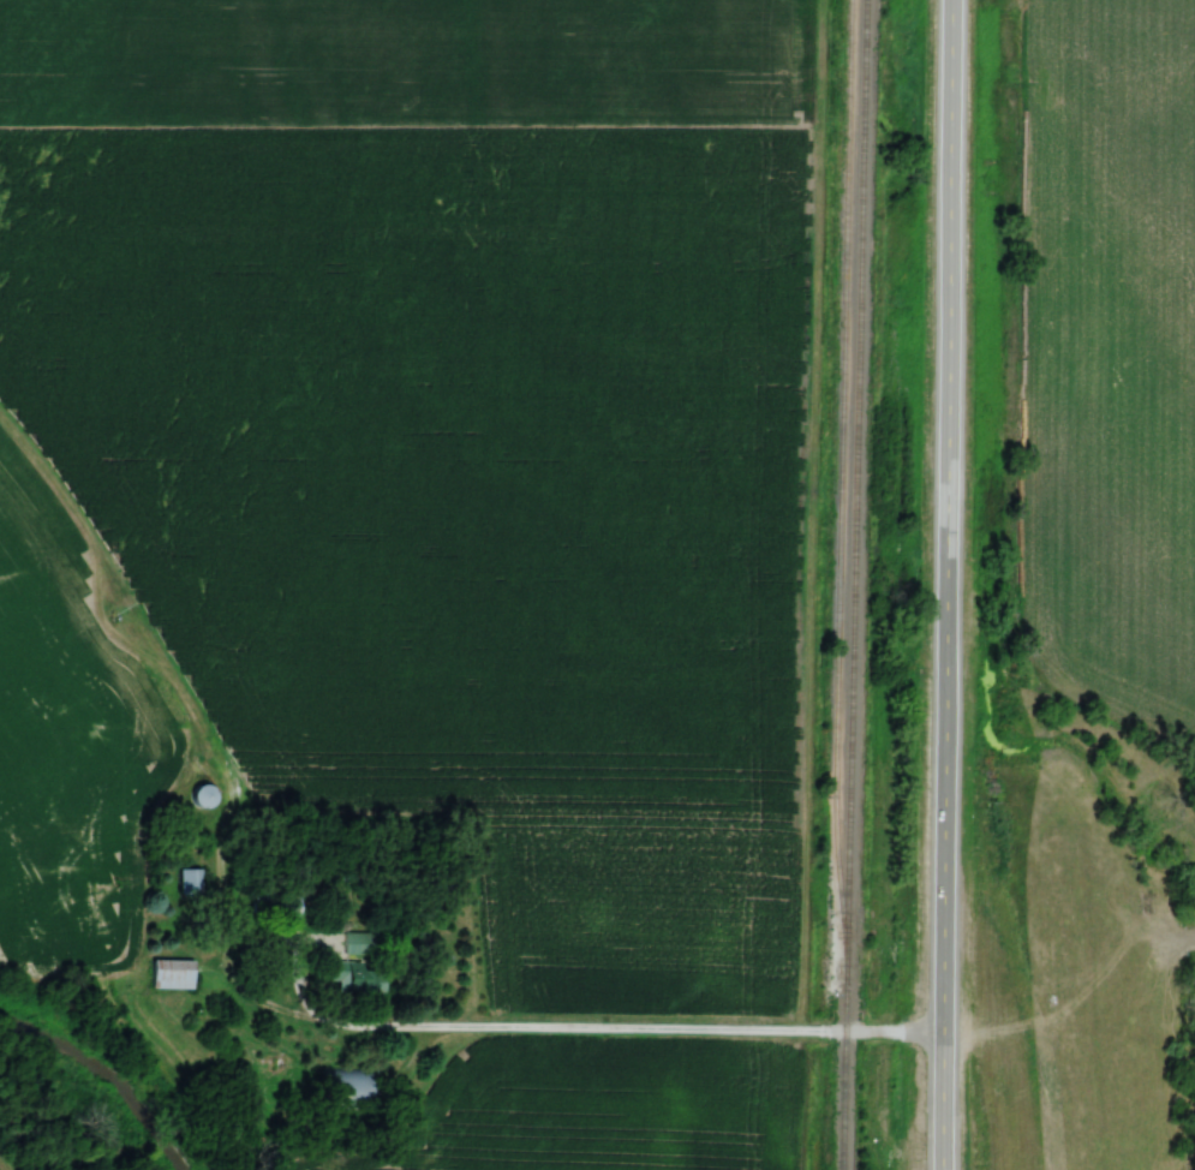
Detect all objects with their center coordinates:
railway: (840, 470)
railway: (852, 585)
road: (944, 585)
building: (202, 796)
building: (190, 881)
building: (276, 903)
building: (357, 943)
building: (171, 974)
building: (357, 977)
road: (587, 1033)
river: (98, 1082)

